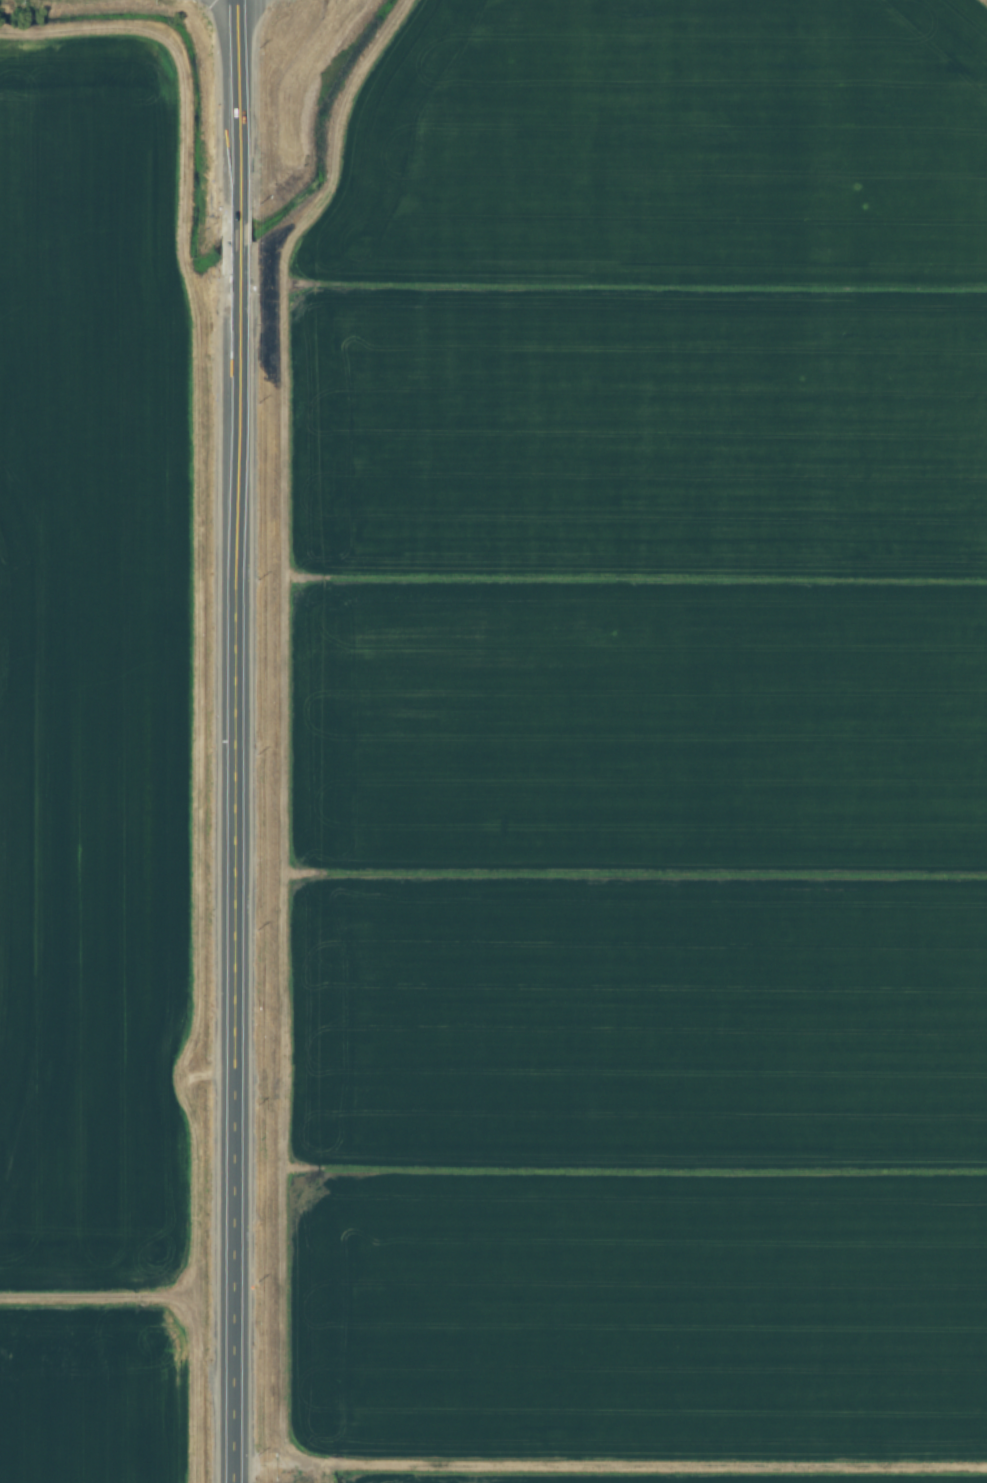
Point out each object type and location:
road: (233, 741)

